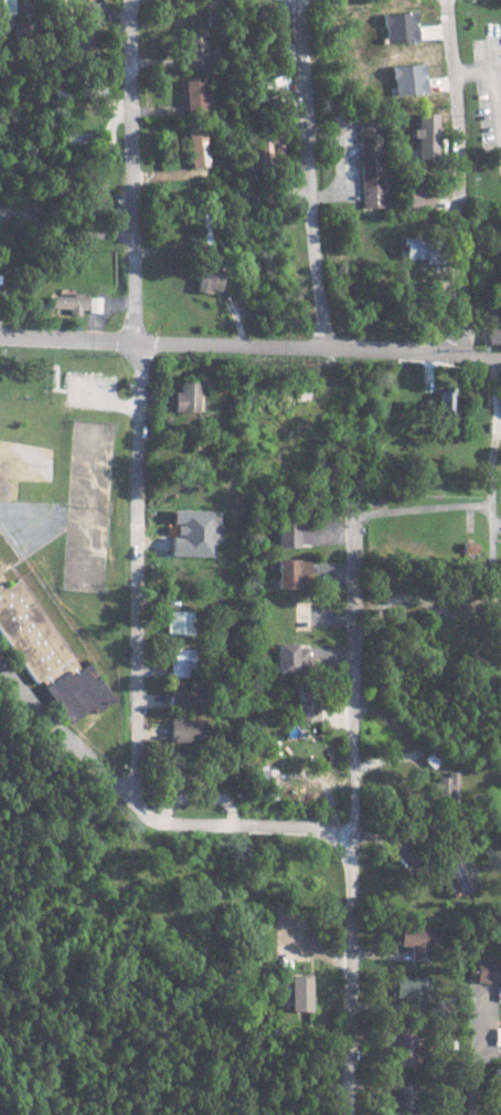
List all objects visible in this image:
building: (88, 11)
building: (21, 19)
building: (84, 44)
building: (200, 48)
building: (195, 95)
building: (77, 137)
building: (199, 149)
building: (373, 162)
road: (315, 172)
road: (460, 178)
building: (420, 197)
road: (66, 230)
building: (426, 249)
building: (209, 281)
building: (68, 303)
building: (93, 304)
building: (493, 322)
road: (250, 343)
park: (25, 375)
building: (185, 397)
road: (140, 401)
building: (447, 402)
park: (88, 462)
park: (68, 482)
building: (196, 530)
building: (291, 533)
park: (83, 547)
building: (469, 547)
building: (291, 575)
road: (351, 603)
building: (178, 622)
building: (45, 655)
building: (290, 659)
building: (180, 660)
building: (182, 694)
building: (303, 705)
building: (183, 730)
building: (174, 769)
building: (264, 782)
building: (446, 786)
road: (149, 817)
building: (457, 876)
building: (416, 940)
building: (487, 970)
road: (353, 975)
building: (300, 991)
building: (411, 991)
building: (497, 1035)
building: (406, 1048)
road: (473, 1072)
building: (406, 1097)

